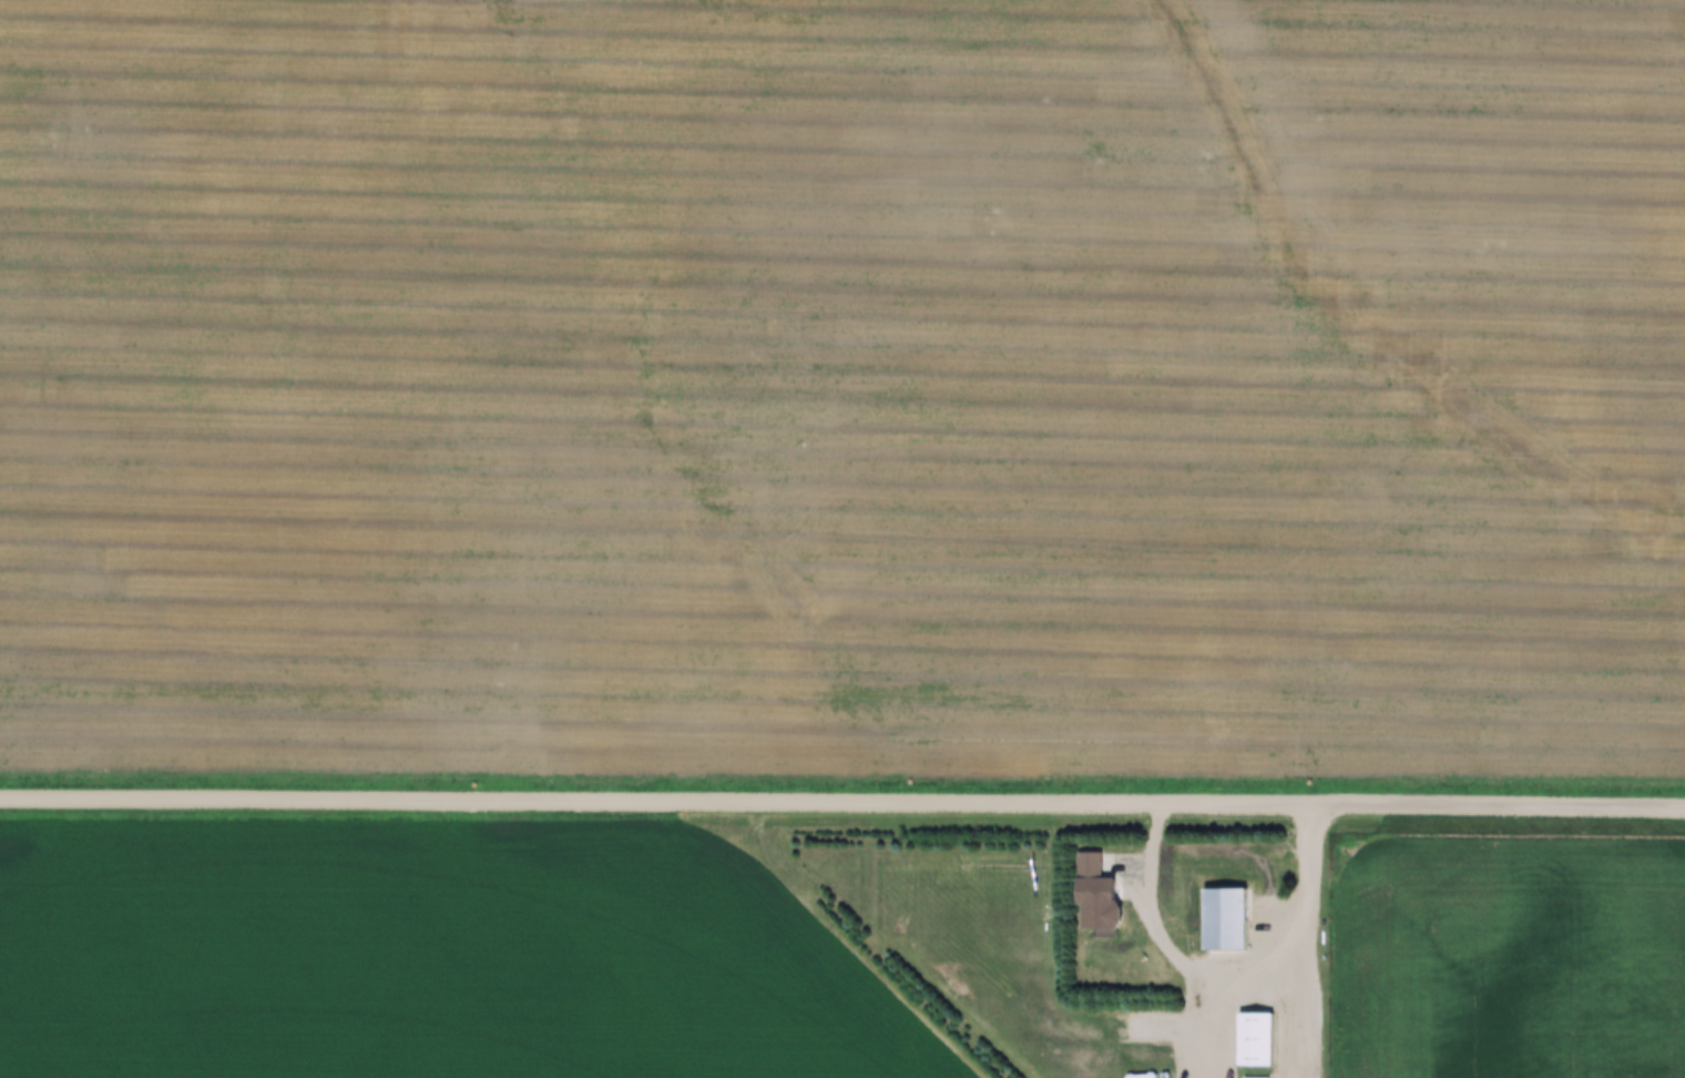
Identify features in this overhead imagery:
road: (842, 804)
building: (1095, 881)
building: (1227, 918)
building: (1257, 1038)

